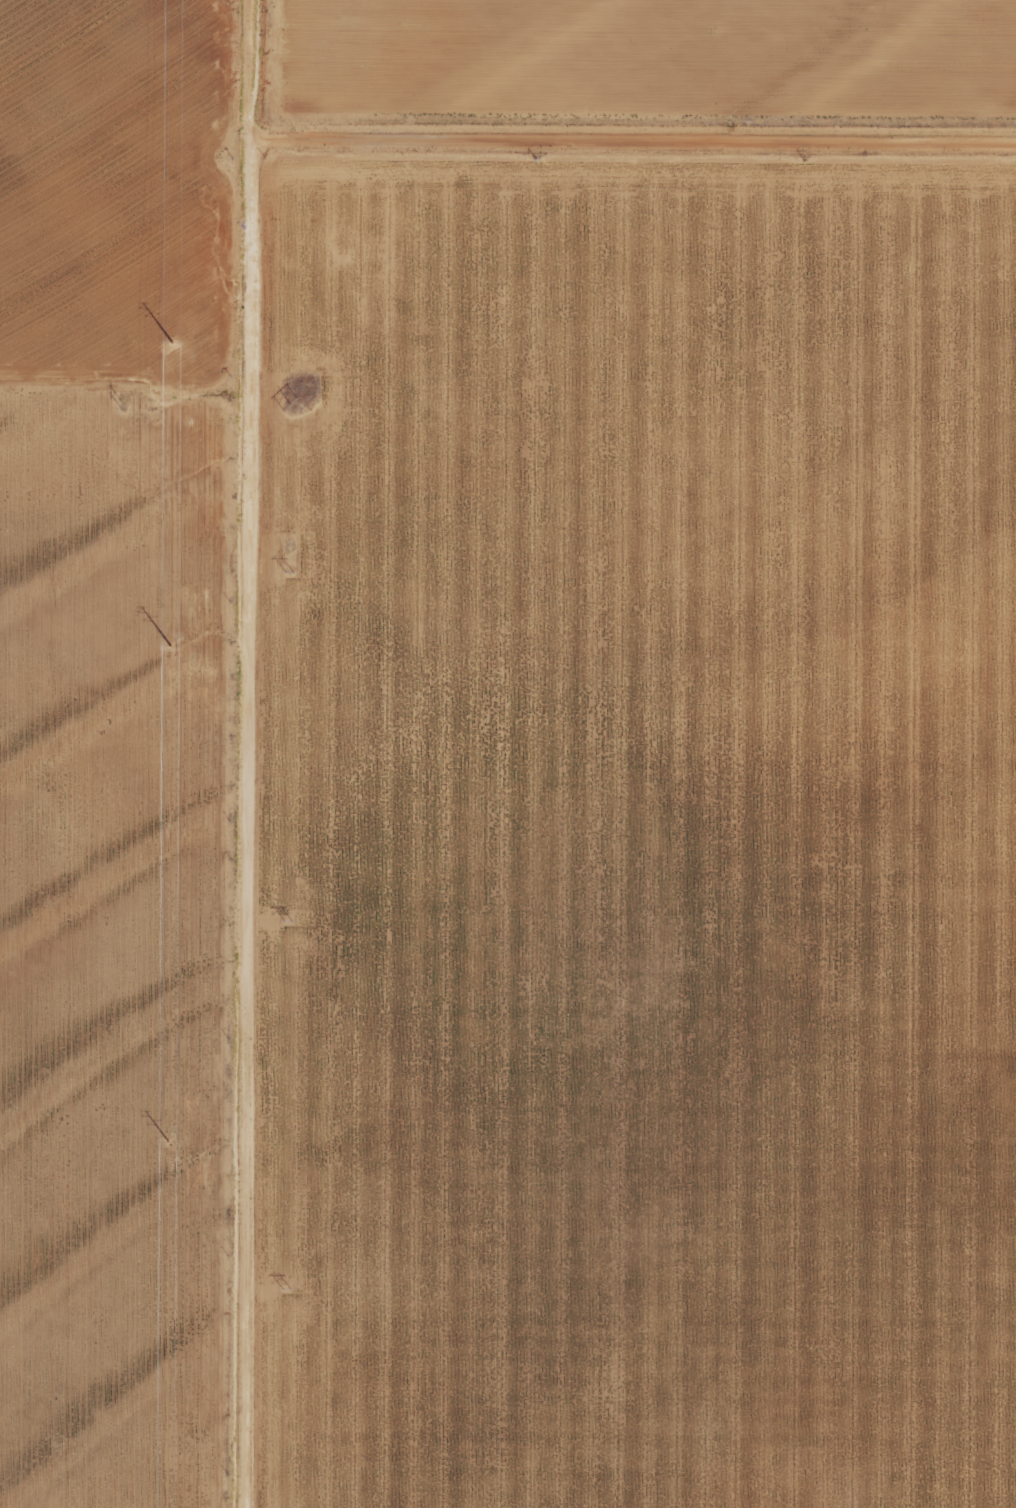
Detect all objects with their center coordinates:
road: (617, 143)
power tower: (162, 346)
road: (101, 396)
power tower: (286, 400)
power tower: (116, 404)
power tower: (285, 568)
power tower: (159, 647)
road: (202, 753)
power tower: (284, 914)
power tower: (156, 1140)
power tower: (283, 1283)

